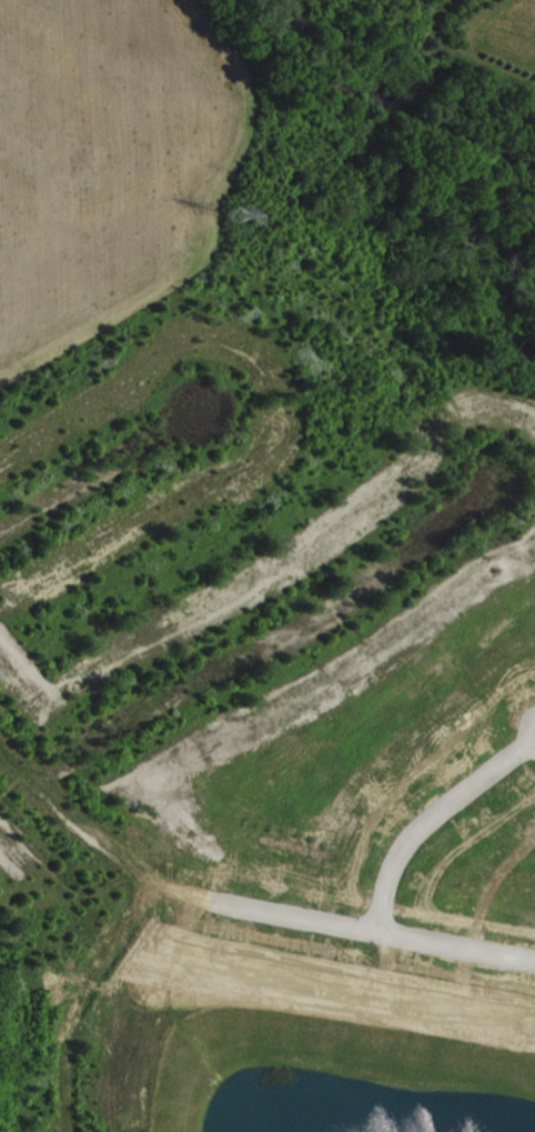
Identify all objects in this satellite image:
power tower: (234, 217)
road: (98, 472)
road: (264, 651)
road: (428, 818)
road: (245, 910)

